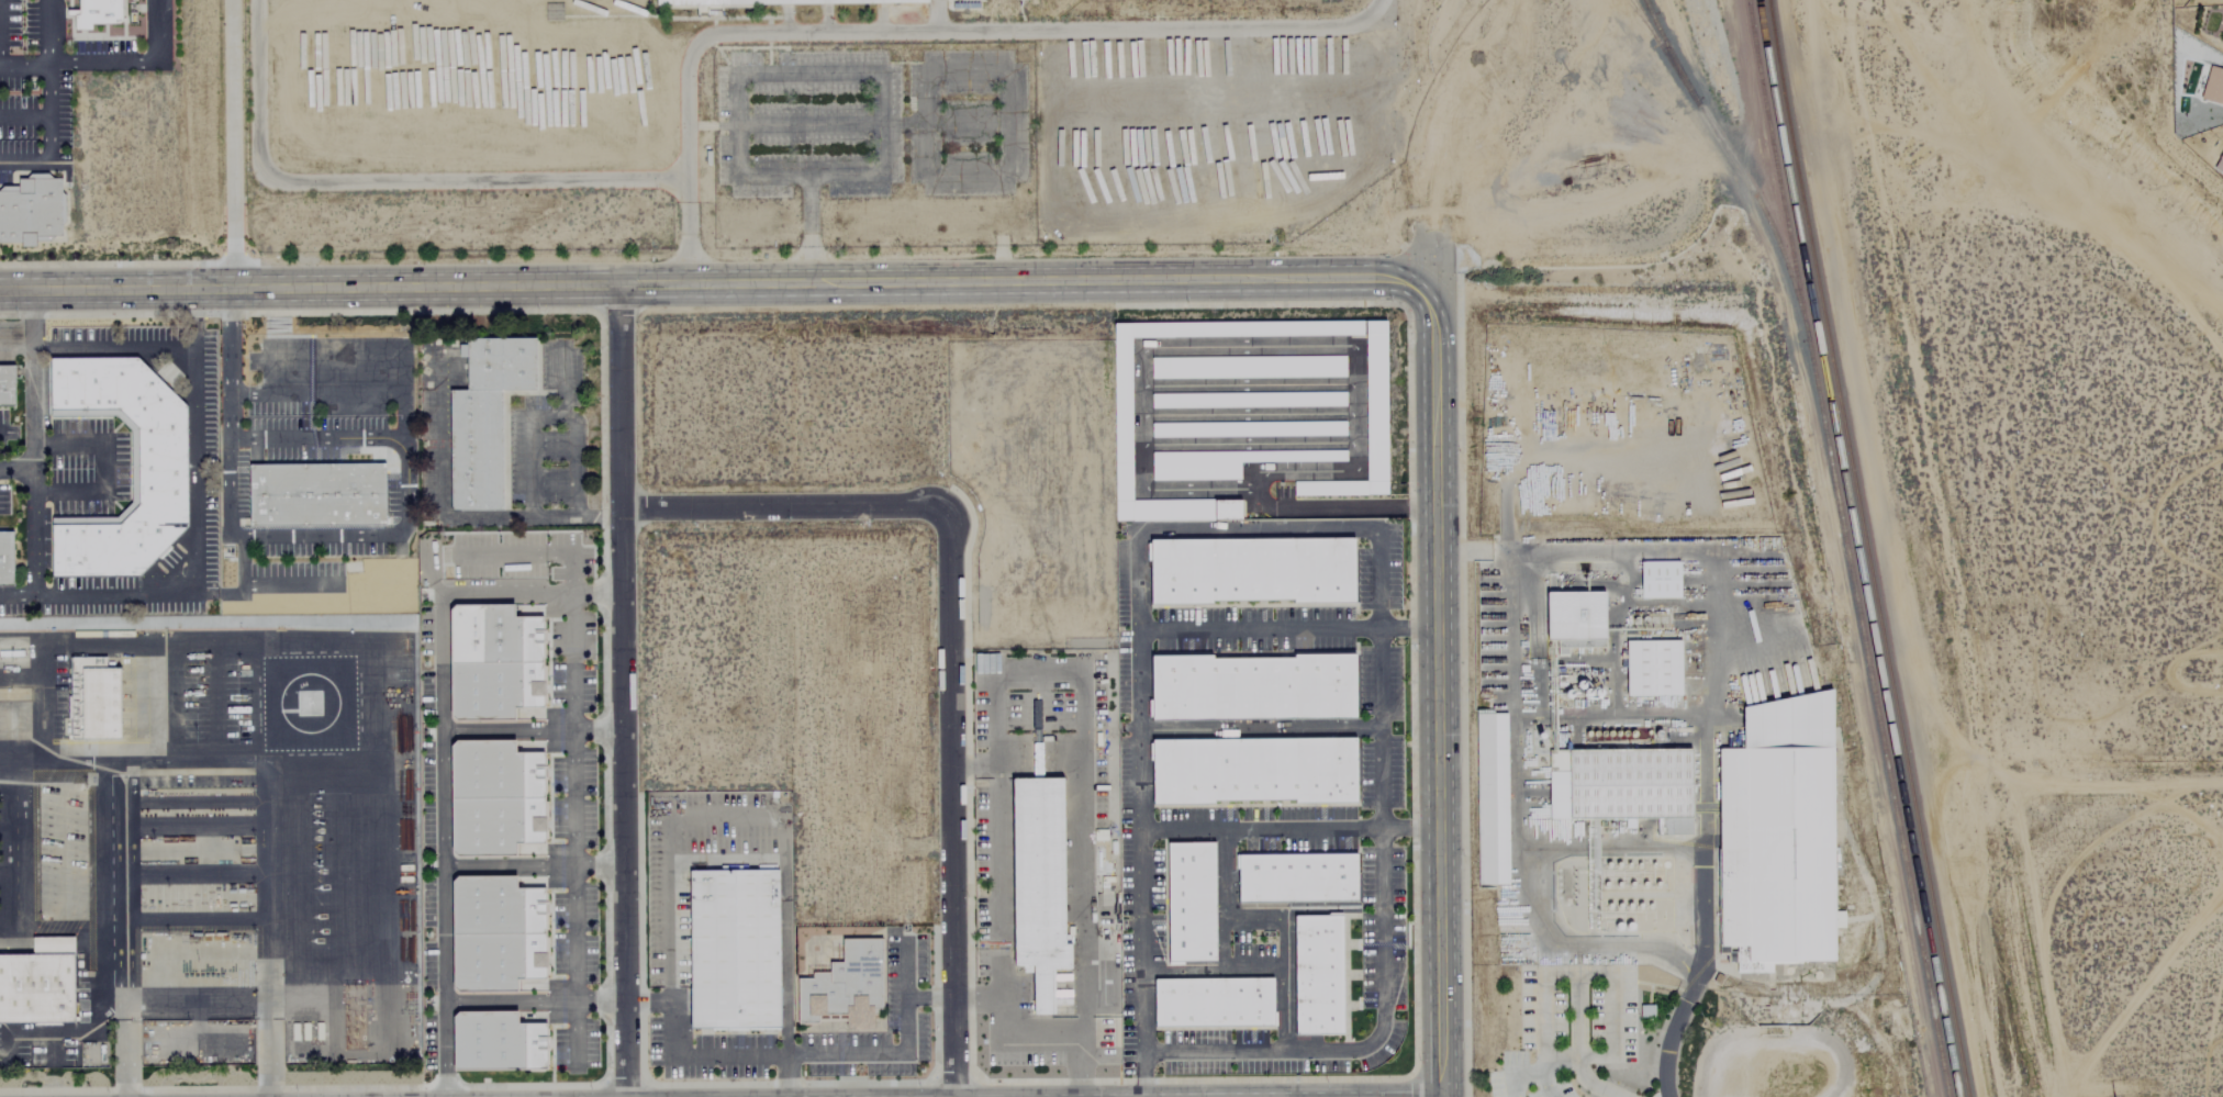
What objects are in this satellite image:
building: (781, 2)
railway: (1646, 7)
railway: (1644, 21)
road: (916, 31)
road: (44, 33)
railway: (1661, 46)
road: (105, 63)
street lamp: (695, 85)
building: (2212, 87)
road: (894, 93)
street lamp: (968, 98)
street lamp: (814, 99)
road: (1004, 107)
road: (24, 115)
parking lot: (868, 123)
road: (48, 137)
road: (232, 142)
street lamp: (968, 147)
street lamp: (815, 149)
building: (2220, 156)
railway: (1736, 164)
road: (387, 181)
street lamp: (649, 192)
street lamp: (315, 194)
street lamp: (471, 195)
building: (31, 205)
road: (809, 227)
street lamp: (791, 246)
street lamp: (695, 247)
road: (707, 283)
road: (1232, 348)
road: (113, 349)
road: (228, 361)
building: (1247, 368)
road: (32, 379)
building: (5, 385)
building: (1245, 400)
building: (1374, 410)
building: (483, 417)
building: (1248, 429)
building: (1224, 462)
road: (109, 463)
building: (157, 467)
building: (315, 494)
road: (529, 508)
road: (1341, 508)
road: (34, 515)
road: (395, 530)
road: (1370, 533)
road: (194, 537)
railway: (1845, 548)
railway: (1855, 548)
railway: (1866, 548)
road: (1476, 555)
building: (4, 559)
road: (1908, 566)
building: (1249, 571)
building: (1657, 580)
building: (1574, 619)
road: (1286, 629)
road: (949, 641)
road: (59, 646)
road: (1708, 659)
building: (492, 663)
building: (1651, 669)
building: (1250, 689)
road: (1437, 690)
road: (619, 691)
building: (93, 699)
helipad: (308, 703)
road: (595, 728)
road: (1259, 728)
road: (506, 730)
road: (442, 736)
road: (193, 762)
road: (15, 765)
building: (1252, 771)
road: (7, 786)
building: (1621, 787)
road: (571, 797)
building: (492, 798)
building: (1490, 799)
road: (1288, 829)
road: (1515, 829)
road: (7, 832)
building: (1775, 837)
road: (13, 860)
road: (507, 867)
road: (596, 867)
road: (7, 878)
building: (1294, 878)
building: (1037, 882)
building: (1189, 903)
road: (782, 922)
road: (124, 930)
road: (265, 932)
building: (493, 934)
road: (382, 944)
building: (731, 949)
road: (669, 954)
building: (1315, 975)
road: (355, 977)
building: (37, 978)
road: (1611, 981)
building: (842, 988)
road: (194, 999)
road: (467, 1003)
building: (1211, 1003)
road: (1675, 1023)
road: (1032, 1031)
building: (495, 1044)
road: (890, 1054)
road: (703, 1055)
road: (1557, 1055)
road: (1139, 1075)
road: (1512, 1077)
road: (1541, 1084)

